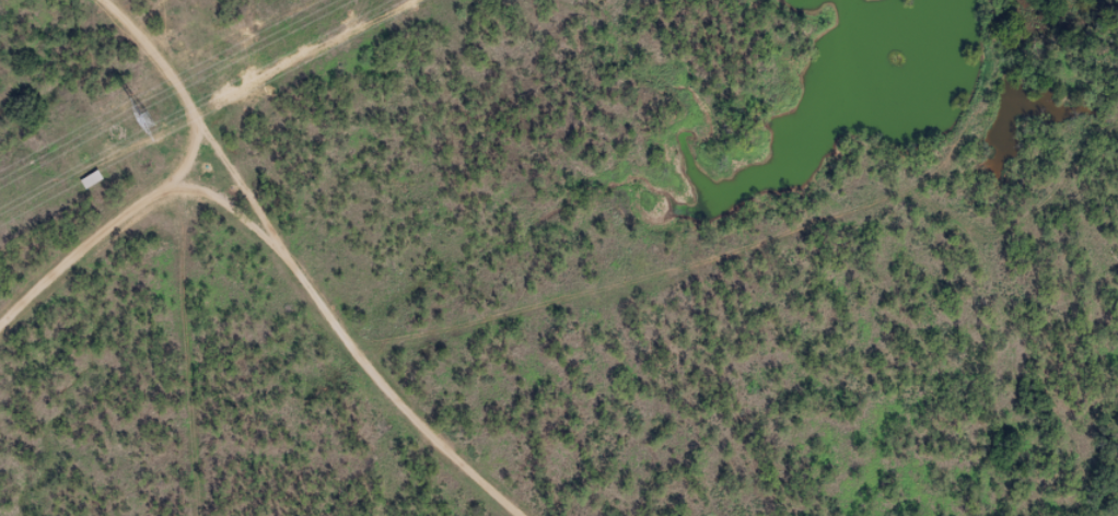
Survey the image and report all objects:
power tower: (150, 122)
building: (88, 188)
road: (98, 255)
road: (306, 275)

